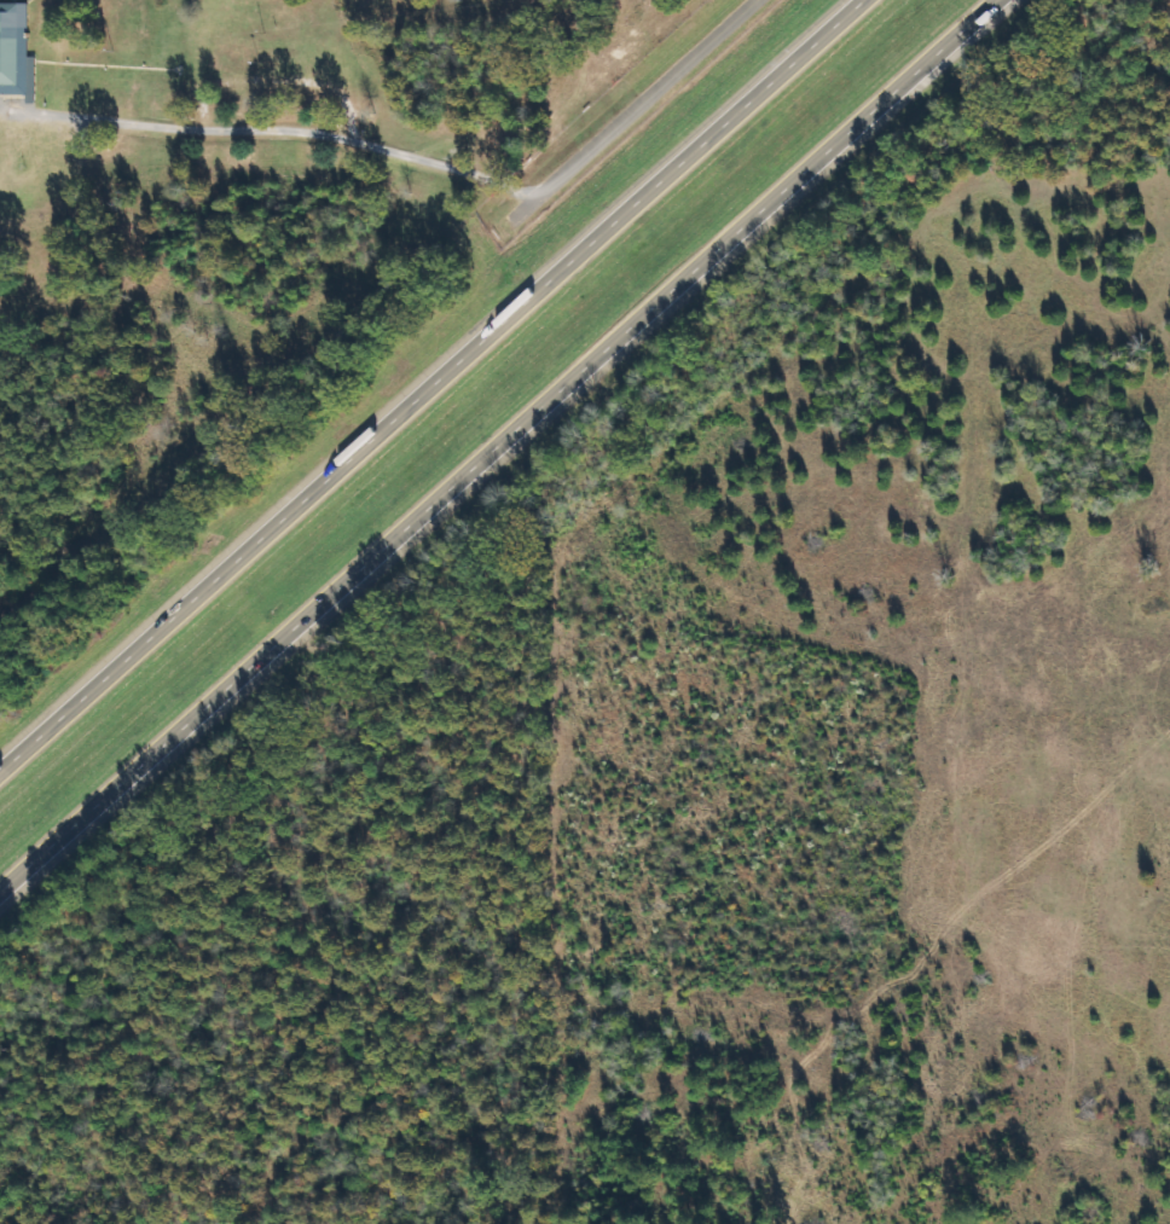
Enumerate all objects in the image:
building: (16, 51)
road: (641, 108)
road: (436, 390)
road: (504, 451)

